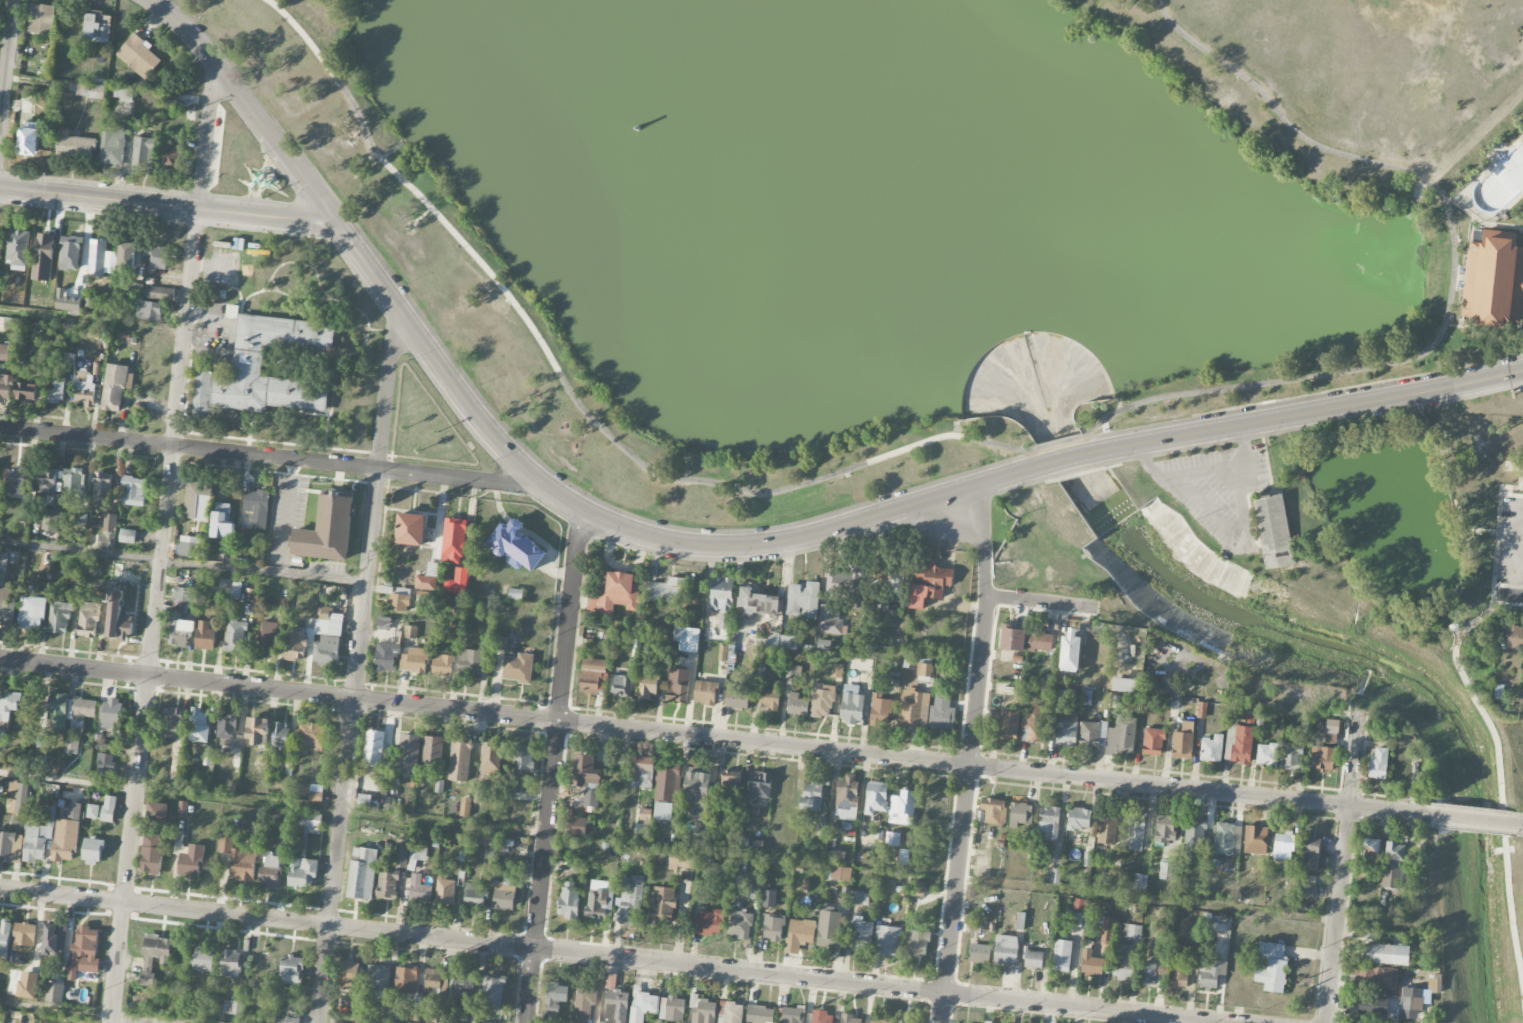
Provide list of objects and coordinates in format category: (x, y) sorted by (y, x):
building: (41, 19)
building: (97, 26)
park: (1344, 51)
building: (138, 56)
road: (6, 57)
building: (92, 91)
building: (123, 94)
building: (170, 99)
road: (243, 101)
building: (29, 139)
building: (74, 145)
building: (112, 145)
parking lot: (212, 146)
building: (142, 153)
building: (173, 156)
building: (1510, 170)
road: (164, 205)
road: (419, 215)
road: (1479, 222)
road: (1521, 228)
building: (18, 251)
building: (69, 253)
building: (127, 256)
building: (100, 258)
building: (159, 258)
park: (955, 258)
road: (1449, 275)
building: (1493, 279)
building: (159, 293)
building: (87, 303)
building: (149, 311)
road: (93, 319)
road: (1517, 325)
road: (1481, 328)
building: (92, 334)
building: (5, 353)
building: (69, 359)
building: (249, 362)
building: (5, 387)
building: (114, 388)
building: (26, 391)
building: (54, 391)
building: (85, 398)
road: (571, 399)
road: (438, 408)
road: (1316, 411)
dam: (1051, 414)
road: (1059, 441)
road: (265, 456)
road: (1048, 463)
building: (1519, 466)
road: (1512, 468)
road: (1205, 469)
building: (16, 481)
building: (46, 482)
building: (73, 483)
building: (102, 488)
road: (1518, 488)
building: (134, 491)
parking lot: (1219, 492)
road: (1511, 494)
building: (197, 502)
road: (286, 502)
building: (257, 507)
road: (593, 515)
building: (80, 520)
building: (49, 521)
building: (221, 523)
road: (1480, 529)
building: (327, 530)
building: (410, 530)
building: (1274, 531)
road: (1509, 533)
building: (112, 534)
road: (1229, 534)
building: (241, 535)
building: (127, 536)
parking lot: (1511, 540)
building: (453, 541)
road: (162, 546)
building: (189, 546)
building: (515, 547)
road: (80, 552)
road: (1519, 557)
building: (3, 567)
road: (264, 572)
building: (844, 580)
building: (457, 582)
building: (425, 583)
building: (893, 583)
building: (930, 585)
building: (667, 591)
building: (515, 594)
building: (615, 595)
road: (1510, 595)
building: (425, 597)
building: (722, 600)
road: (1446, 600)
building: (398, 601)
building: (803, 601)
road: (1039, 601)
building: (758, 603)
building: (7, 606)
building: (32, 613)
building: (59, 617)
building: (175, 617)
building: (117, 618)
building: (88, 620)
building: (384, 622)
building: (831, 622)
building: (410, 632)
building: (205, 636)
building: (235, 637)
building: (327, 637)
building: (1515, 637)
building: (267, 638)
building: (1011, 638)
building: (689, 640)
building: (1040, 641)
building: (1217, 641)
building: (498, 643)
building: (781, 643)
building: (295, 644)
building: (1069, 651)
building: (387, 652)
building: (414, 660)
building: (470, 663)
building: (443, 665)
building: (919, 665)
building: (518, 668)
road: (357, 670)
building: (836, 671)
building: (793, 672)
building: (593, 676)
building: (1125, 684)
building: (678, 685)
building: (620, 686)
building: (647, 687)
building: (705, 693)
building: (738, 697)
building: (1058, 697)
building: (770, 699)
building: (822, 704)
building: (852, 705)
building: (8, 706)
building: (797, 706)
building: (914, 710)
building: (880, 711)
building: (57, 712)
building: (82, 712)
building: (941, 713)
building: (112, 714)
building: (173, 721)
building: (1005, 724)
building: (1034, 724)
building: (199, 726)
building: (1067, 728)
building: (1331, 731)
building: (257, 732)
road: (1492, 734)
building: (229, 735)
building: (1108, 736)
building: (280, 737)
building: (311, 739)
road: (717, 739)
building: (2, 740)
building: (1182, 740)
building: (1152, 741)
building: (41, 742)
building: (1239, 743)
building: (71, 747)
building: (374, 748)
building: (1211, 748)
building: (432, 750)
building: (409, 754)
road: (971, 754)
building: (1266, 754)
building: (1291, 757)
building: (1323, 757)
building: (523, 758)
building: (491, 759)
building: (460, 762)
building: (1378, 763)
building: (177, 764)
building: (105, 766)
road: (552, 767)
building: (640, 771)
building: (585, 772)
building: (730, 782)
building: (760, 785)
building: (439, 786)
building: (698, 790)
building: (665, 792)
building: (315, 793)
building: (811, 797)
building: (17, 798)
building: (847, 798)
building: (876, 798)
building: (590, 799)
building: (364, 801)
building: (936, 803)
road: (272, 804)
building: (390, 804)
building: (903, 804)
building: (465, 807)
building: (108, 809)
building: (182, 809)
building: (993, 810)
building: (74, 811)
building: (92, 811)
building: (157, 813)
building: (1020, 813)
building: (1078, 819)
building: (308, 820)
road: (1477, 820)
building: (1049, 823)
road: (1520, 825)
building: (821, 826)
building: (1165, 826)
building: (579, 827)
building: (1107, 828)
building: (1136, 832)
building: (39, 837)
building: (892, 839)
building: (1227, 839)
building: (1255, 839)
building: (65, 840)
building: (1193, 841)
building: (1285, 843)
building: (505, 846)
building: (10, 847)
building: (1370, 847)
building: (92, 851)
building: (1394, 851)
building: (1311, 853)
building: (151, 854)
building: (401, 854)
building: (416, 856)
building: (836, 856)
building: (238, 860)
building: (682, 860)
building: (929, 860)
road: (1344, 863)
building: (1167, 870)
building: (270, 871)
building: (302, 873)
building: (837, 873)
building: (362, 874)
building: (1052, 875)
building: (1392, 878)
building: (625, 884)
building: (387, 885)
building: (1306, 885)
building: (419, 890)
building: (444, 891)
building: (755, 892)
building: (473, 896)
building: (504, 896)
building: (769, 899)
building: (861, 899)
road: (1148, 899)
building: (598, 900)
building: (568, 901)
building: (630, 904)
building: (1078, 905)
building: (662, 908)
building: (1020, 921)
building: (708, 923)
building: (1213, 924)
building: (739, 925)
building: (773, 928)
building: (828, 929)
building: (1105, 929)
building: (1133, 931)
building: (23, 936)
building: (798, 936)
building: (860, 936)
building: (55, 940)
building: (886, 941)
building: (918, 944)
building: (1005, 949)
building: (84, 952)
building: (979, 953)
building: (1387, 954)
building: (155, 955)
building: (1062, 955)
building: (1124, 956)
road: (606, 957)
building: (1032, 958)
building: (203, 959)
building: (1090, 963)
building: (230, 964)
building: (265, 964)
building: (1272, 967)
building: (291, 971)
building: (1211, 972)
building: (1148, 973)
building: (348, 976)
building: (1179, 976)
building: (1377, 976)
building: (378, 978)
building: (405, 980)
building: (437, 984)
building: (27, 985)
building: (464, 991)
building: (55, 993)
building: (492, 994)
building: (554, 1001)
building: (414, 1002)
building: (1411, 1002)
building: (583, 1003)
building: (208, 1004)
building: (643, 1005)
building: (616, 1006)
building: (1373, 1006)
building: (232, 1008)
building: (672, 1009)
building: (702, 1010)
road: (80, 1013)
building: (730, 1013)
building: (760, 1015)
building: (791, 1015)
building: (822, 1017)
building: (849, 1019)
building: (288, 1020)
building: (877, 1021)
building: (54, 1022)
building: (900, 1022)

